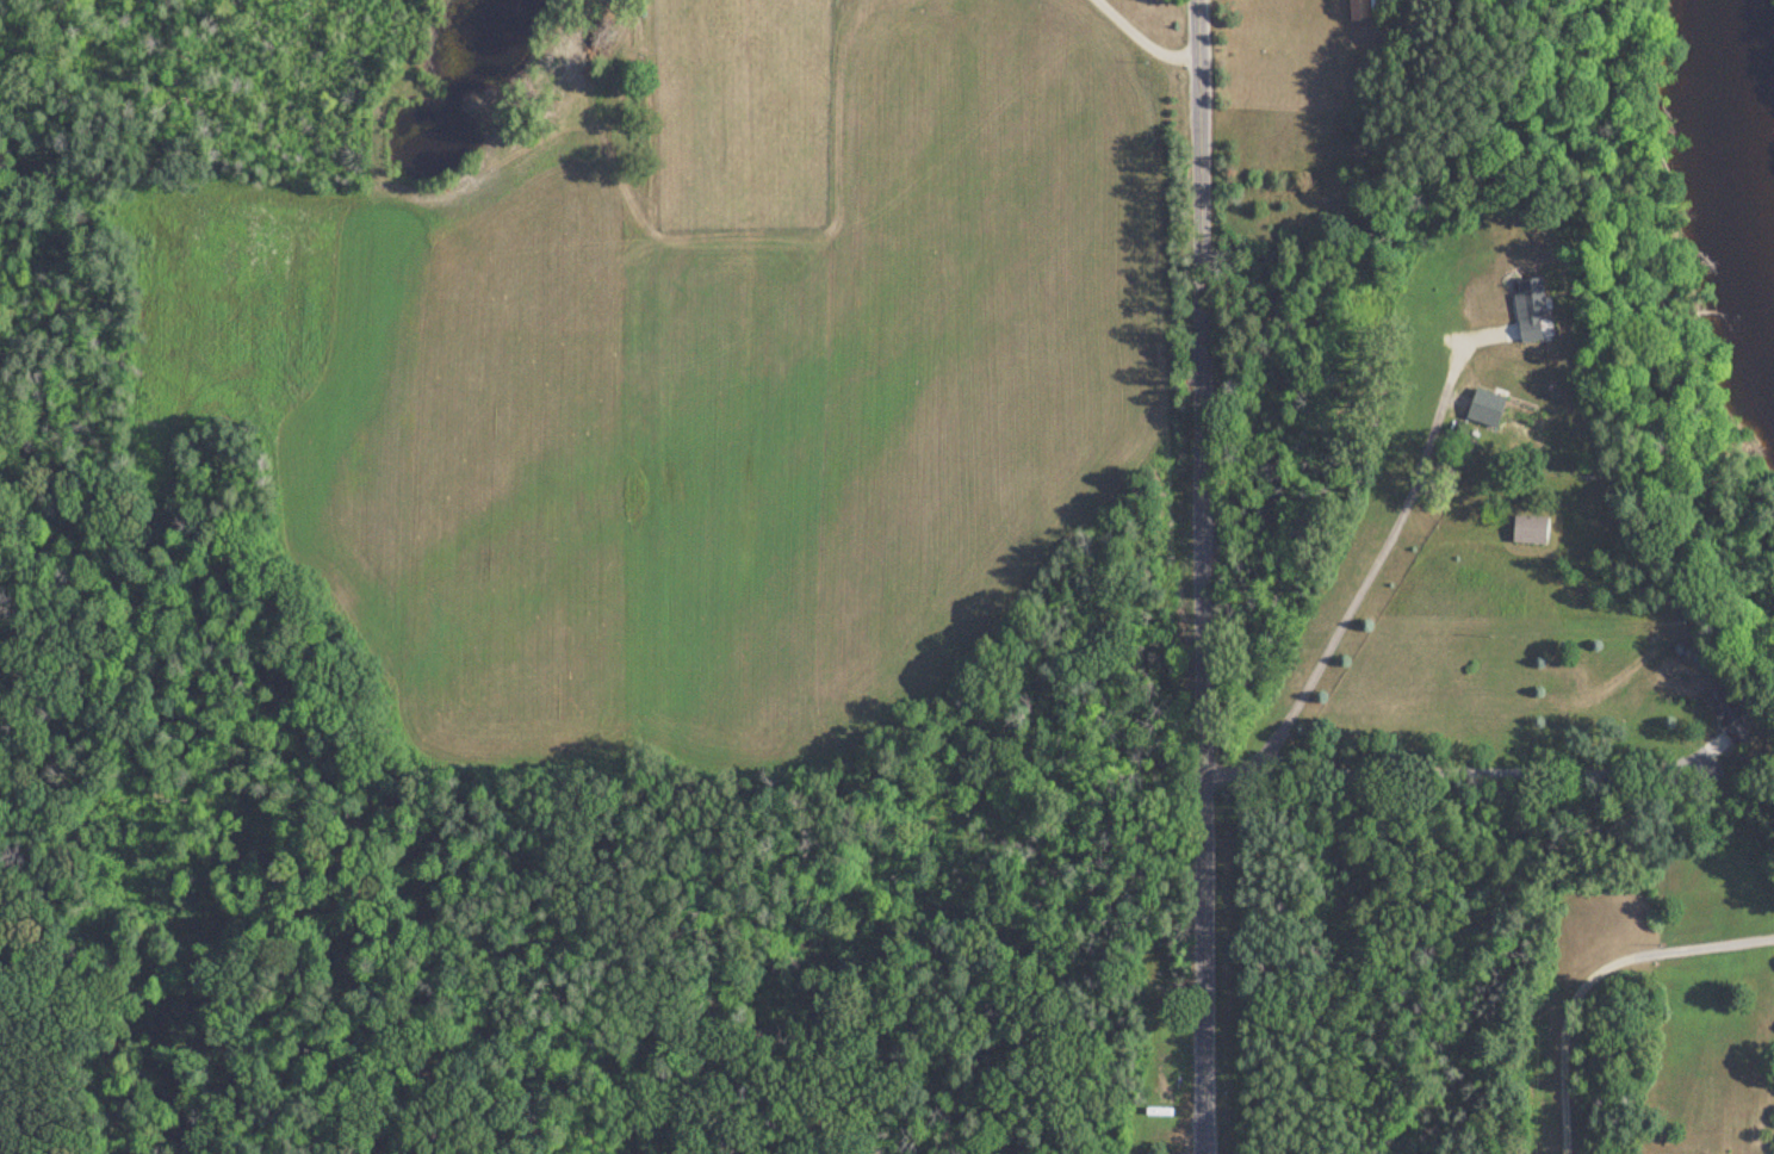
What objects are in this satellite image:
road: (1137, 39)
river: (1756, 131)
building: (1505, 424)
road: (1199, 576)
road: (1348, 603)
building: (1726, 715)
road: (1487, 767)
road: (1701, 947)
road: (1561, 1038)

